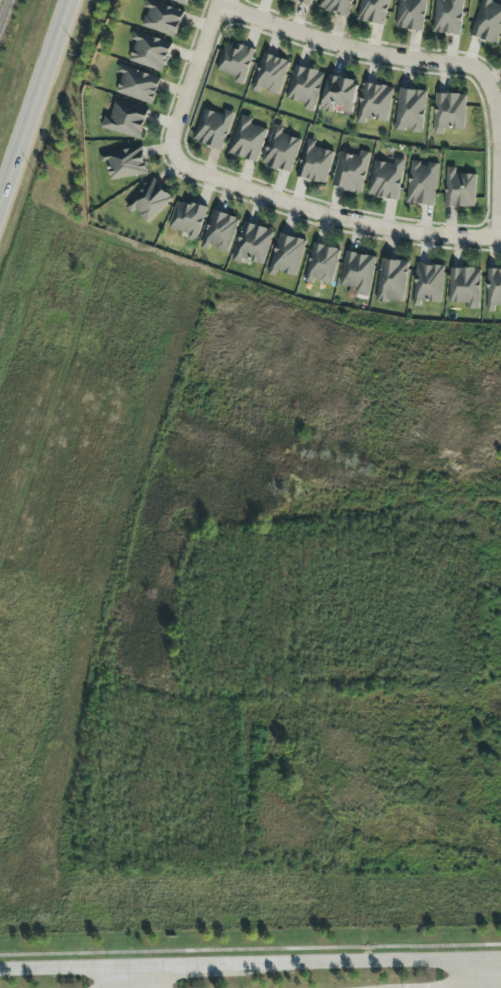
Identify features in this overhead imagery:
building: (181, 1)
building: (305, 1)
building: (336, 6)
building: (373, 10)
railway: (3, 11)
building: (411, 14)
building: (448, 16)
building: (162, 17)
building: (488, 20)
building: (500, 46)
road: (350, 49)
building: (150, 50)
building: (235, 61)
building: (270, 73)
road: (192, 76)
building: (138, 84)
building: (305, 86)
building: (339, 93)
road: (34, 100)
building: (374, 102)
building: (410, 109)
building: (449, 111)
building: (126, 119)
building: (213, 127)
building: (247, 138)
building: (281, 149)
road: (499, 156)
building: (314, 162)
building: (125, 163)
building: (351, 170)
building: (386, 178)
building: (422, 182)
building: (460, 188)
building: (150, 200)
road: (329, 216)
building: (187, 218)
building: (219, 230)
building: (252, 243)
building: (287, 254)
building: (321, 263)
building: (357, 271)
building: (392, 280)
building: (428, 283)
building: (465, 285)
building: (493, 288)
road: (496, 958)
road: (354, 962)
road: (173, 966)
road: (64, 968)
road: (490, 973)
road: (129, 977)

